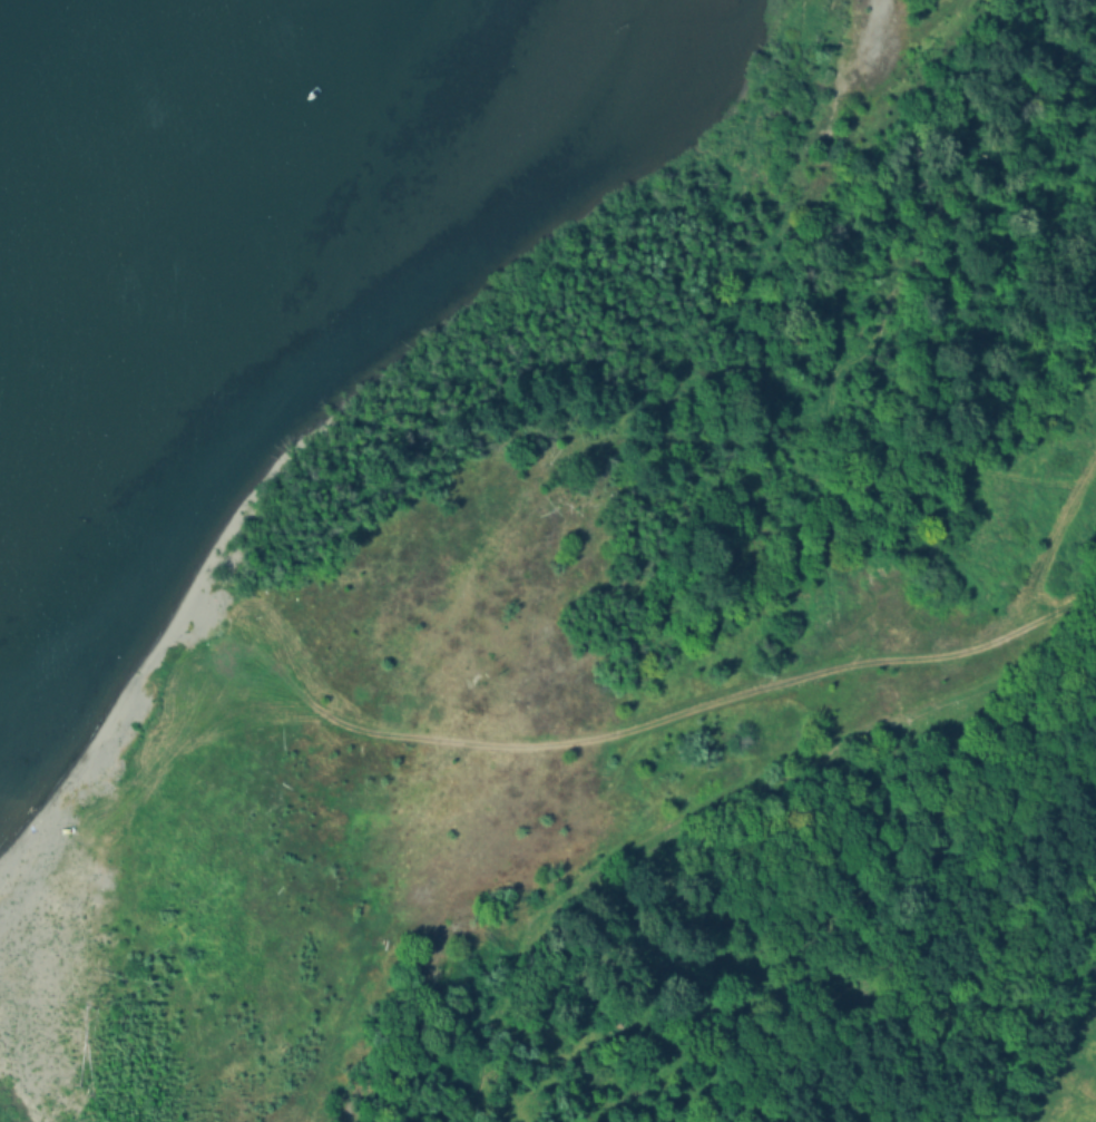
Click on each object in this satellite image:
river: (104, 119)

